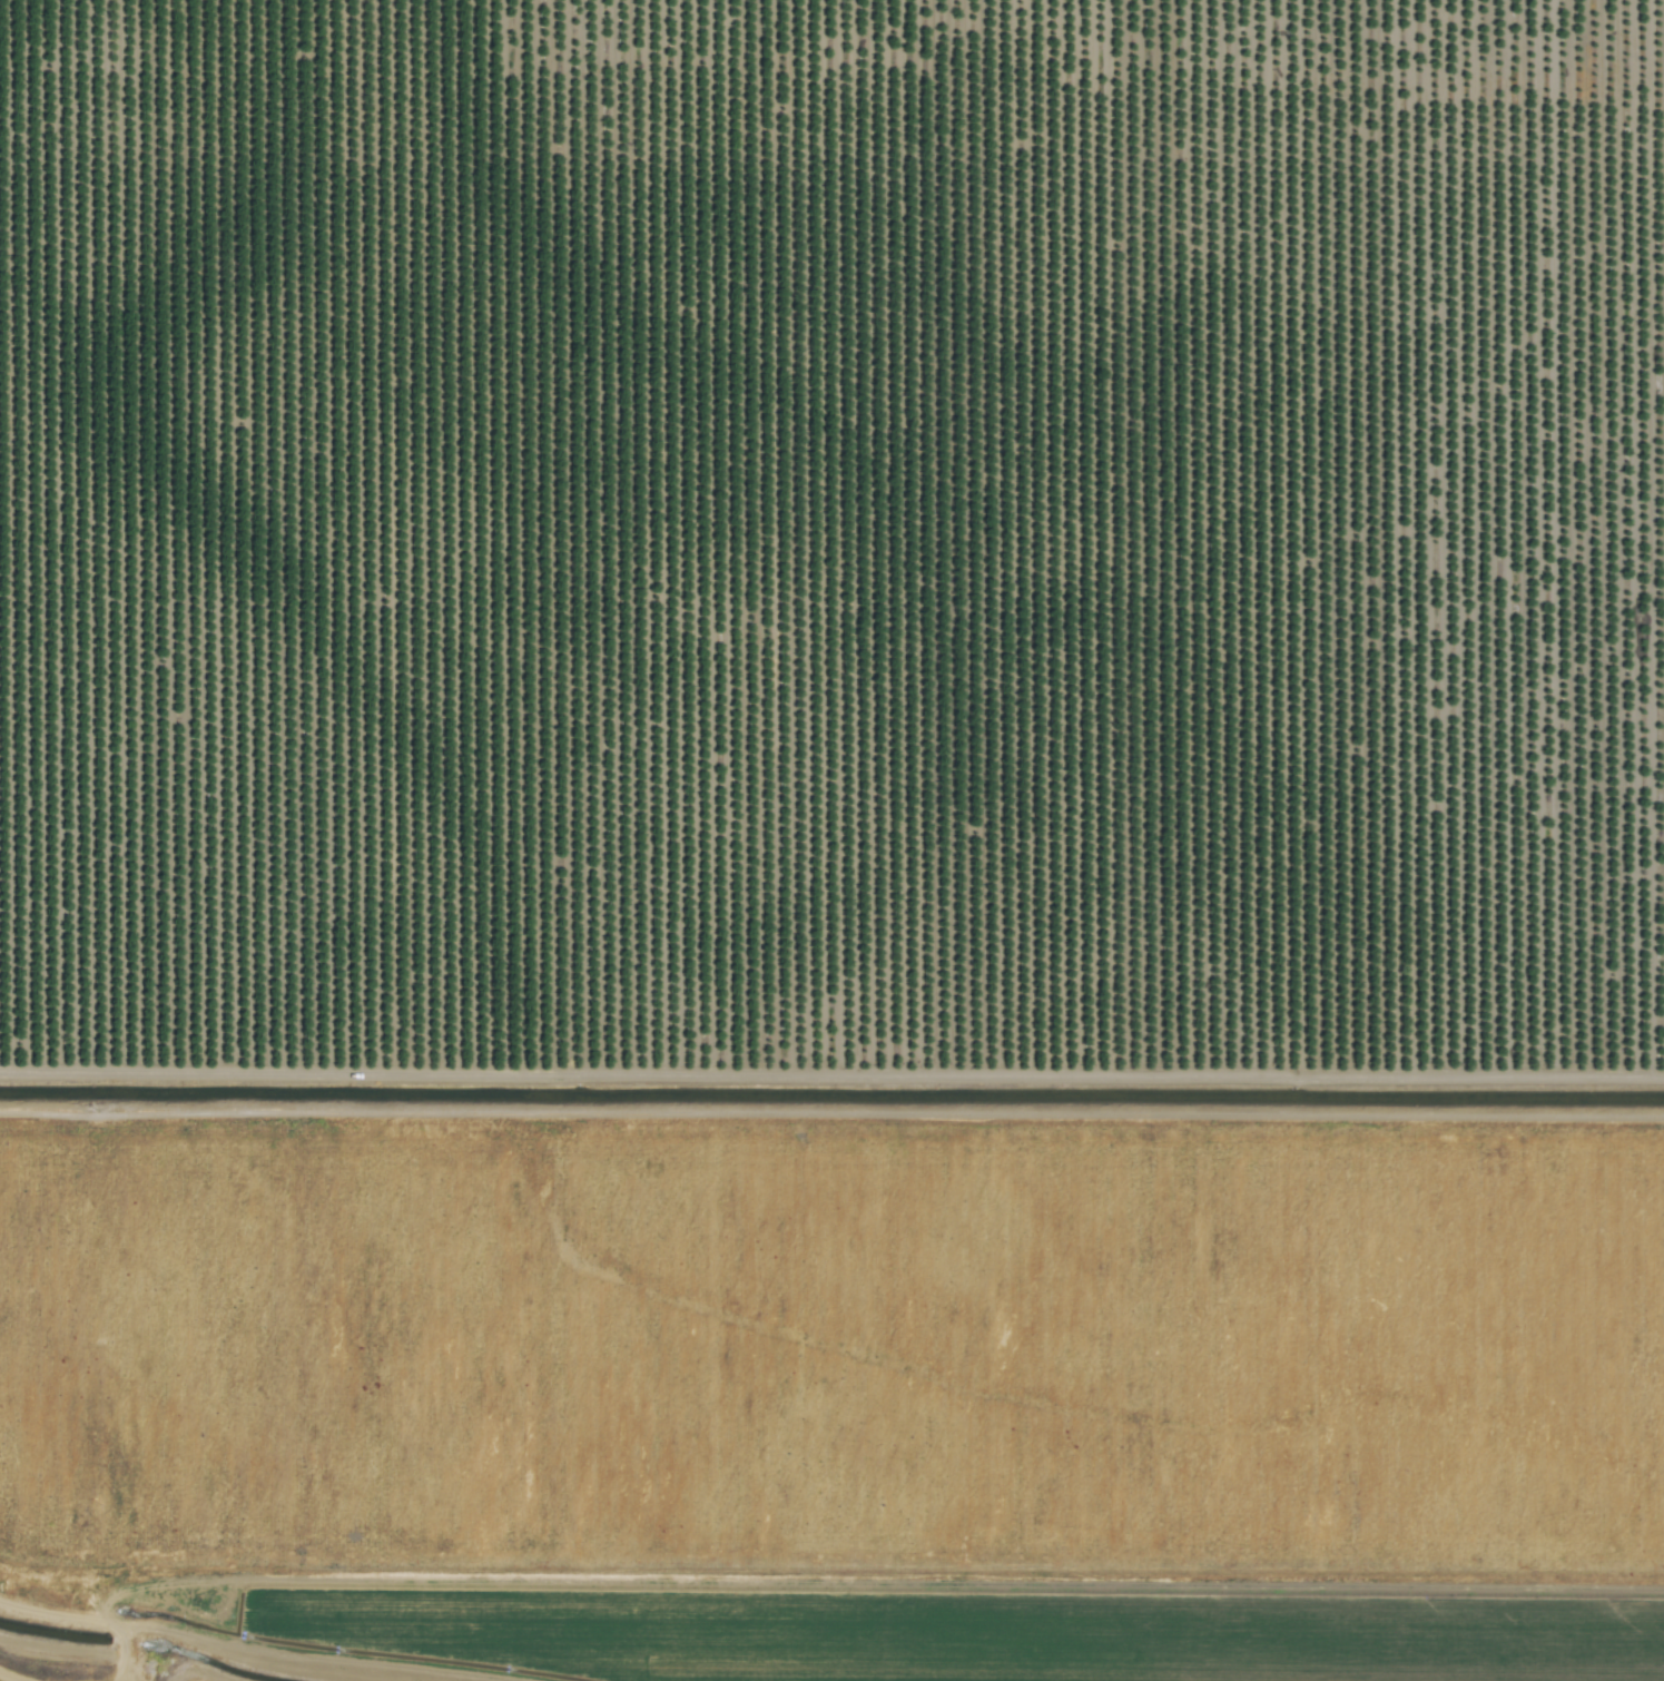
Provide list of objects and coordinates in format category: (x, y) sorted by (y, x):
road: (12, 1675)

